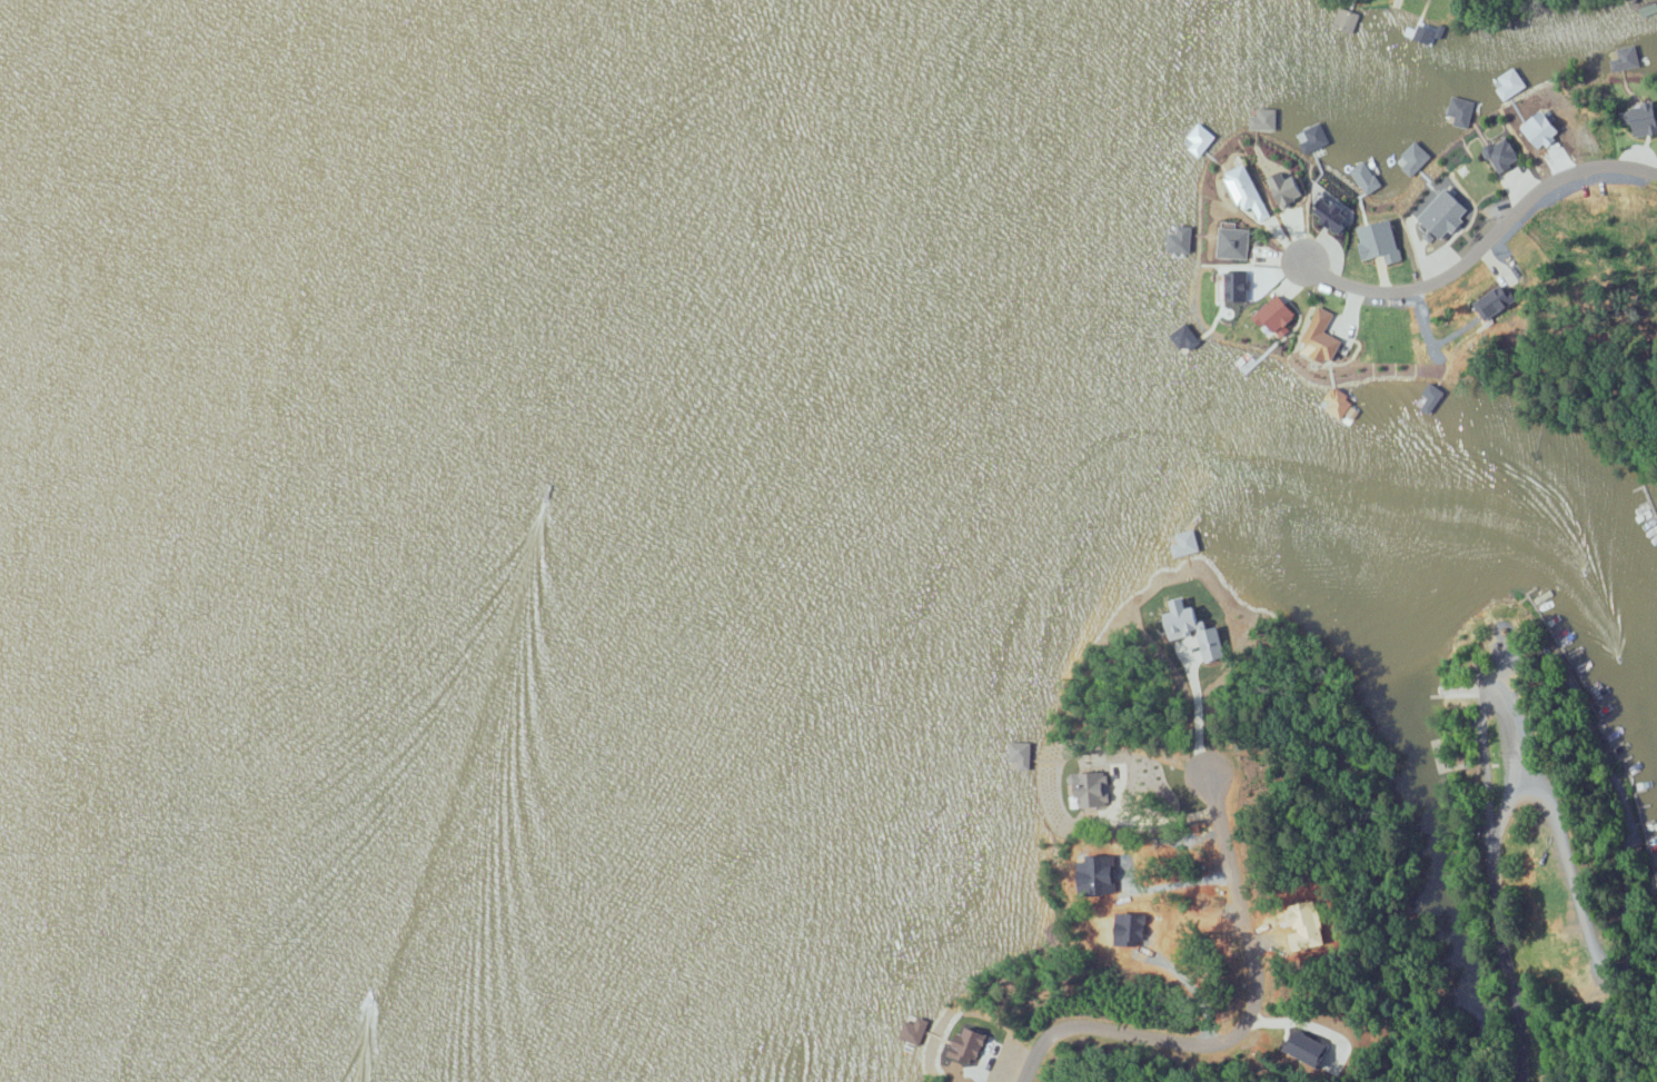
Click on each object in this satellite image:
building: (1650, 8)
building: (1348, 19)
building: (1427, 31)
building: (1627, 58)
building: (1511, 83)
building: (1462, 110)
building: (1641, 118)
building: (1264, 119)
river: (217, 122)
building: (1542, 130)
building: (1316, 137)
building: (1201, 139)
building: (1504, 153)
building: (1413, 158)
building: (1366, 177)
building: (1289, 188)
building: (1249, 191)
building: (1333, 212)
building: (1181, 239)
building: (1380, 240)
building: (1236, 242)
road: (1485, 242)
building: (1496, 301)
building: (1278, 315)
building: (1322, 337)
building: (1430, 397)
building: (1339, 401)
building: (1193, 627)
river: (87, 659)
road: (1496, 857)
road: (1236, 1023)
building: (970, 1048)

